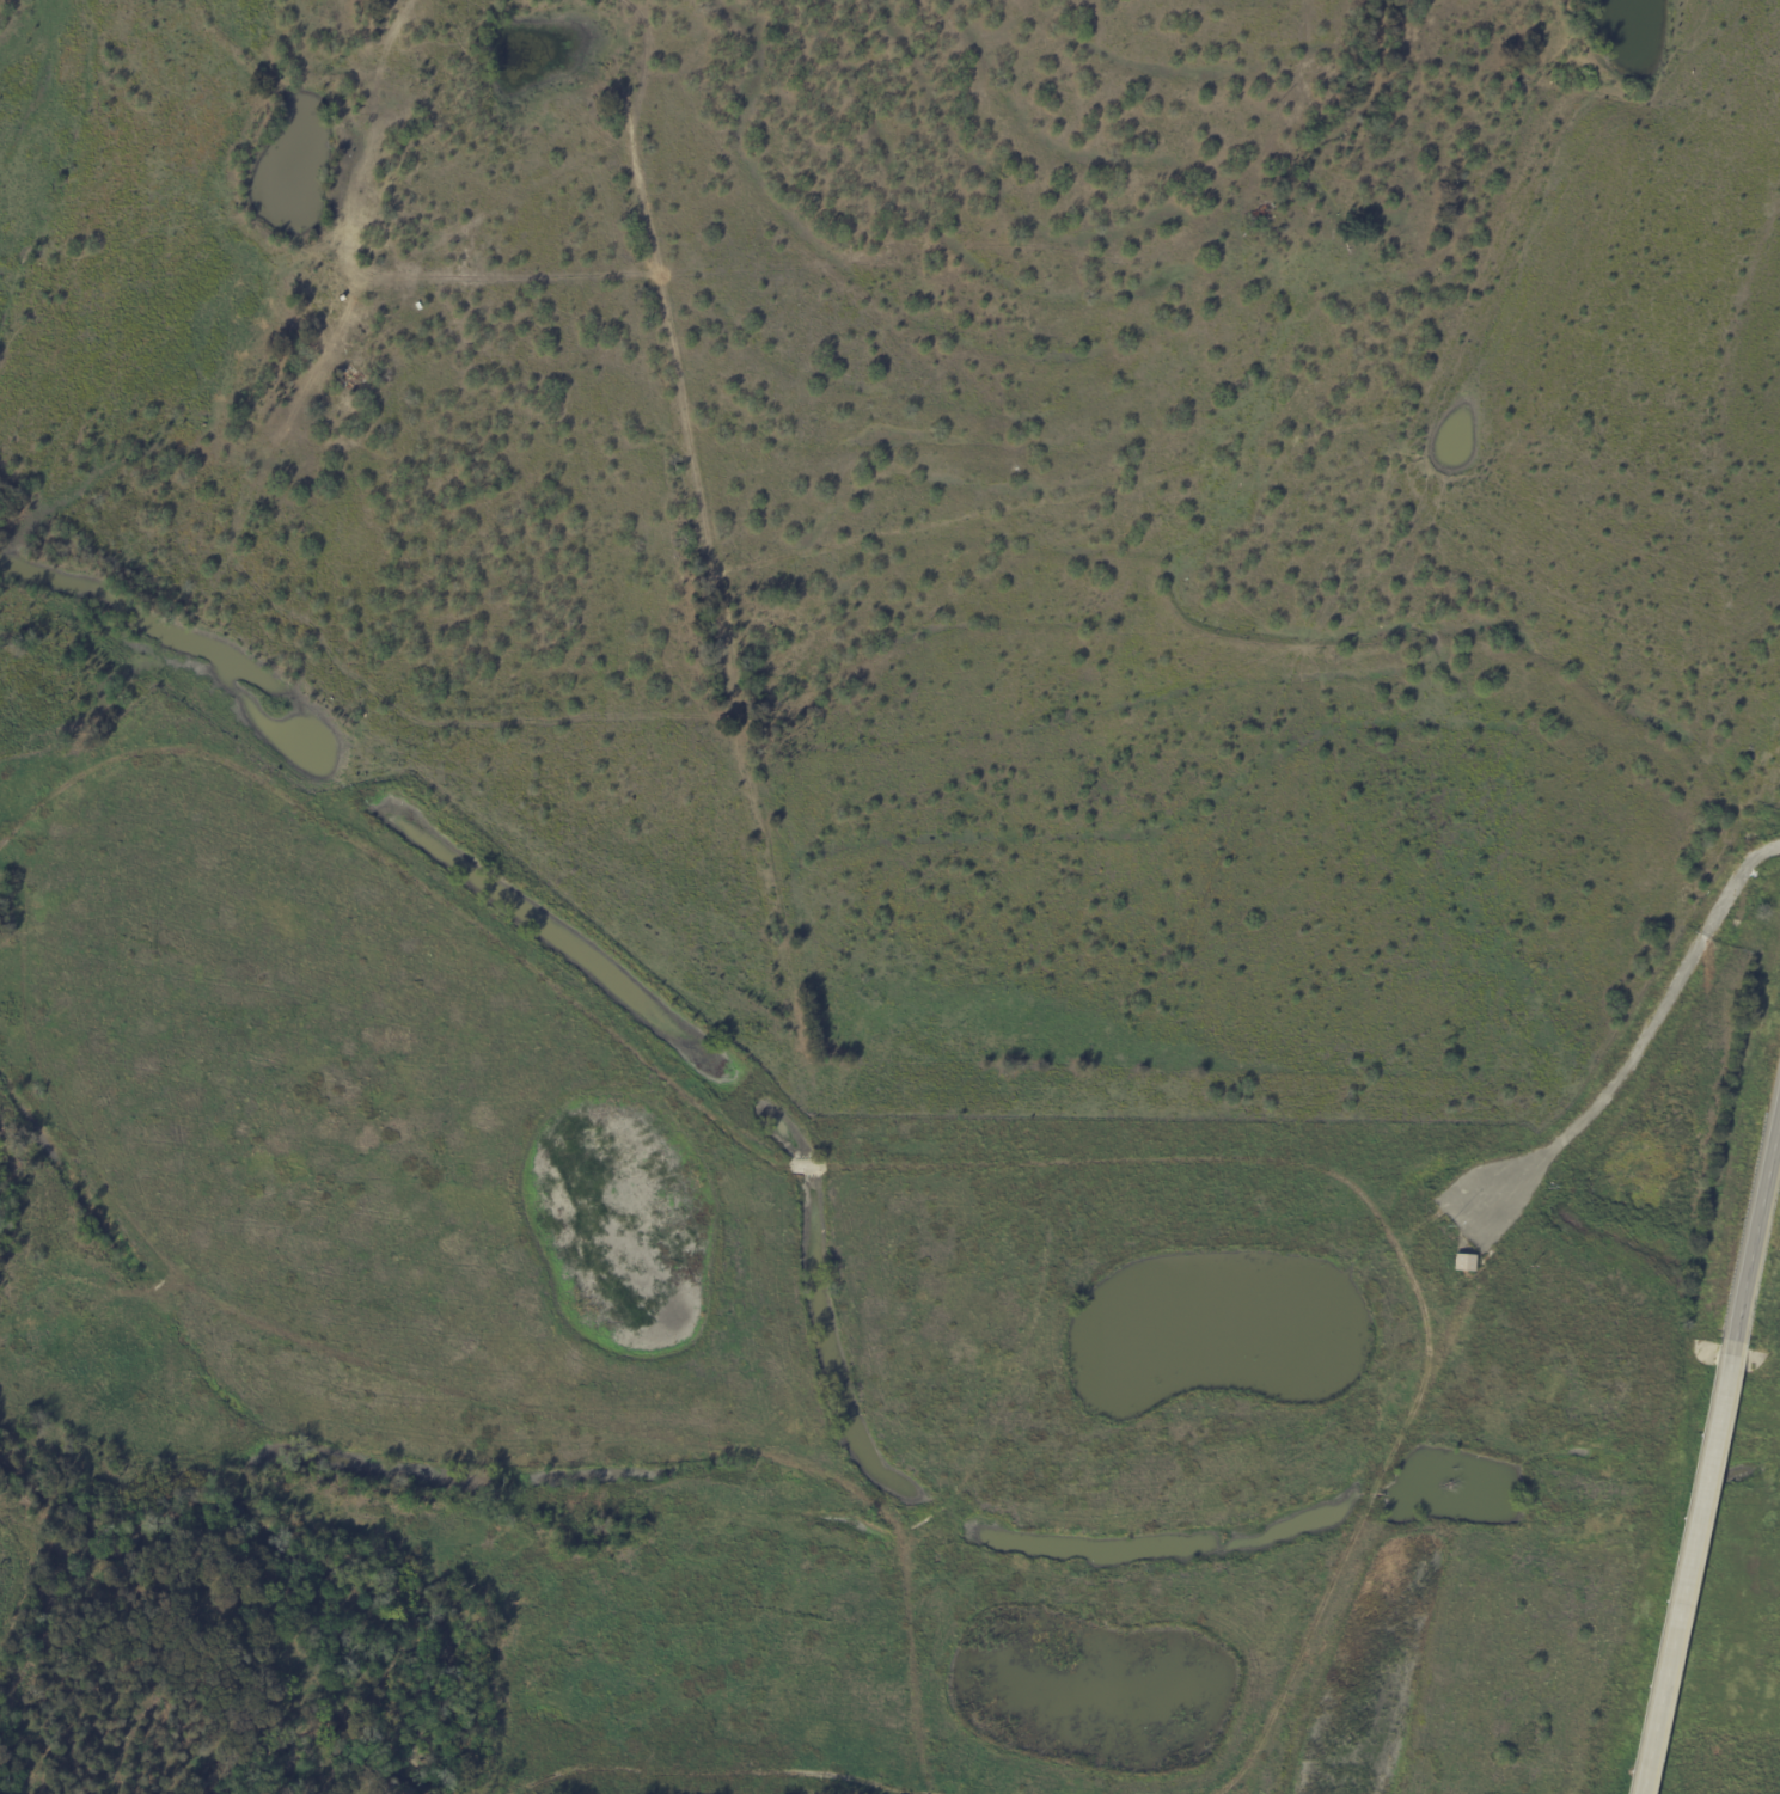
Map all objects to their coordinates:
road: (1651, 1022)
parking lot: (1487, 1204)
road: (1758, 1208)
road: (1687, 1553)

